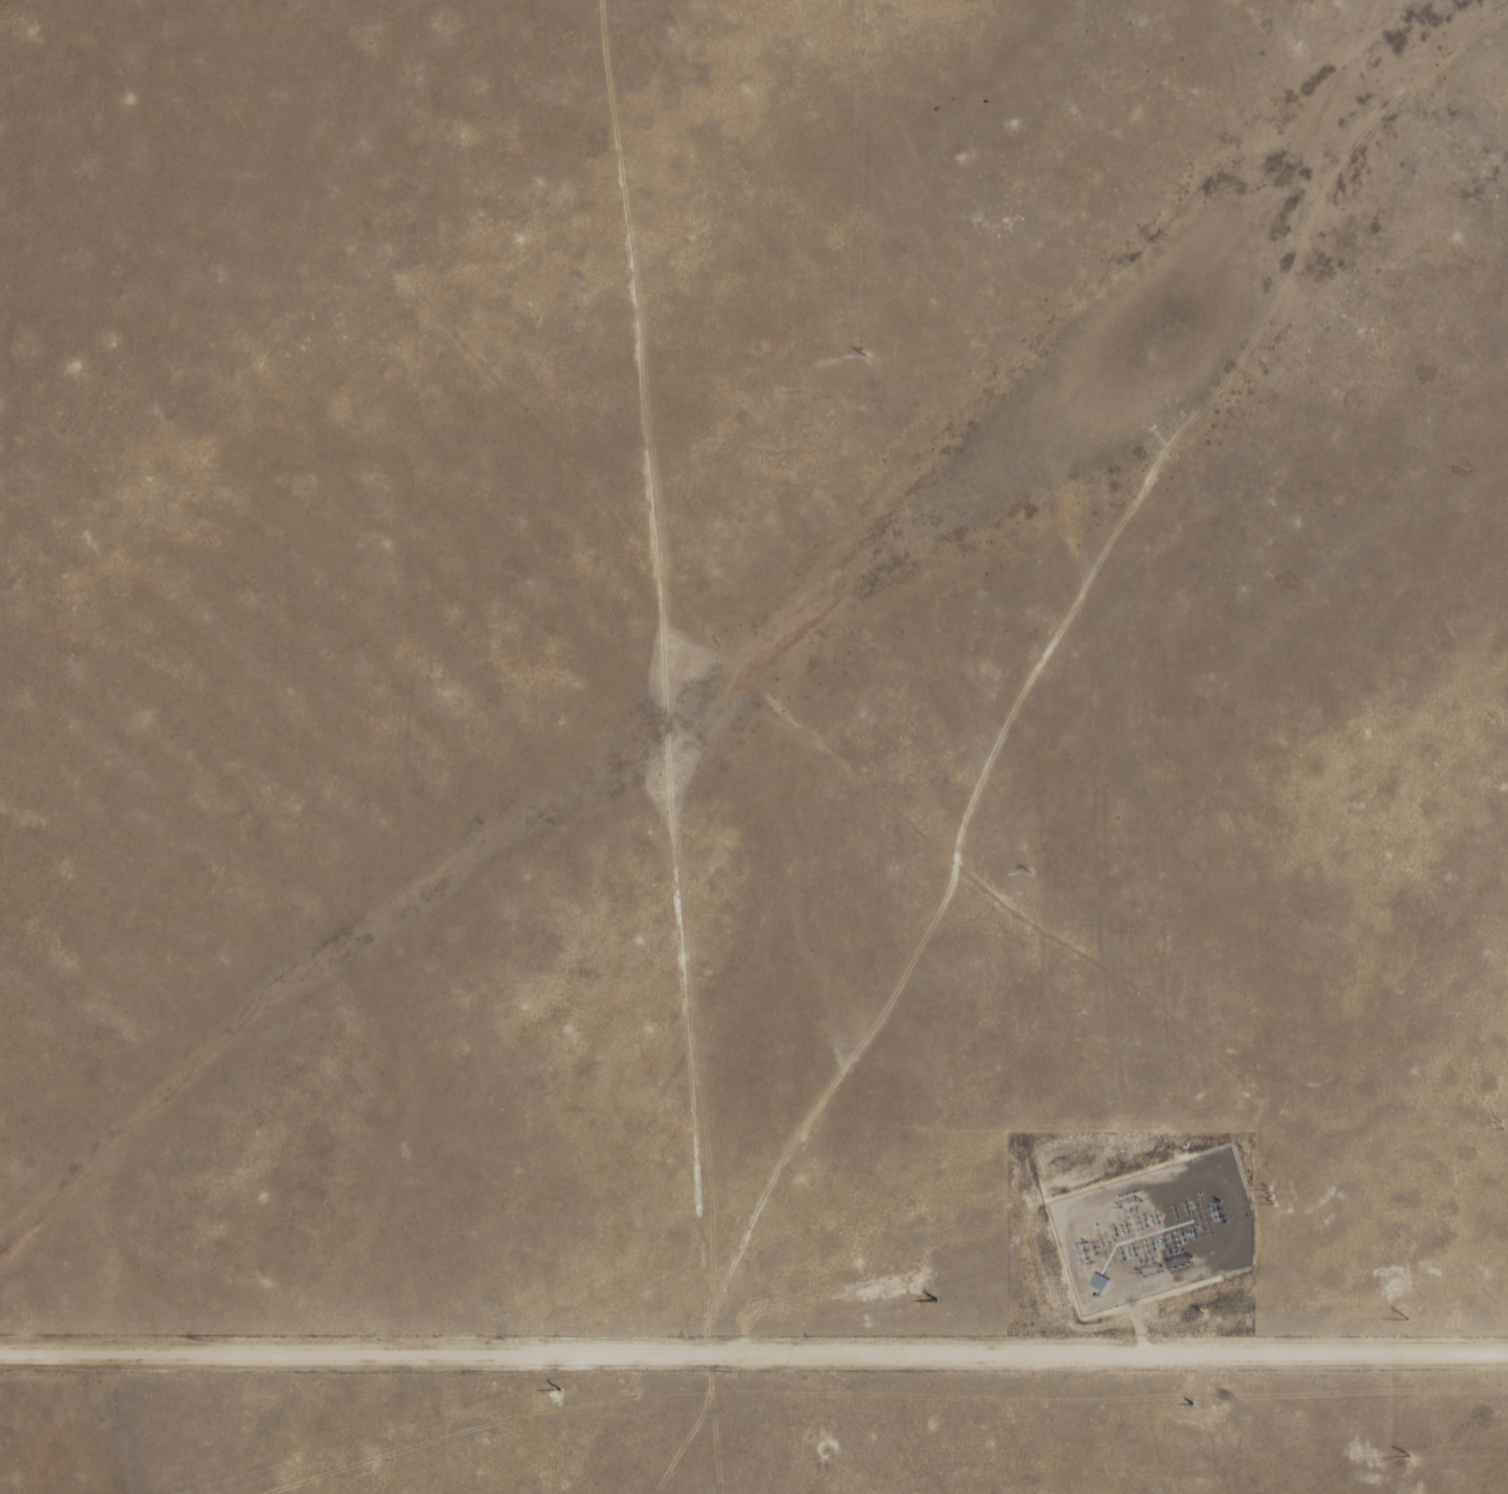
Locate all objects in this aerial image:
power tower: (1501, 1124)
power tower: (1270, 1194)
power tower: (1120, 1197)
power tower: (1212, 1211)
power substation: (1152, 1231)
power tower: (1076, 1252)
power tower: (1180, 1265)
power tower: (1145, 1275)
building: (1096, 1283)
road: (754, 1349)

